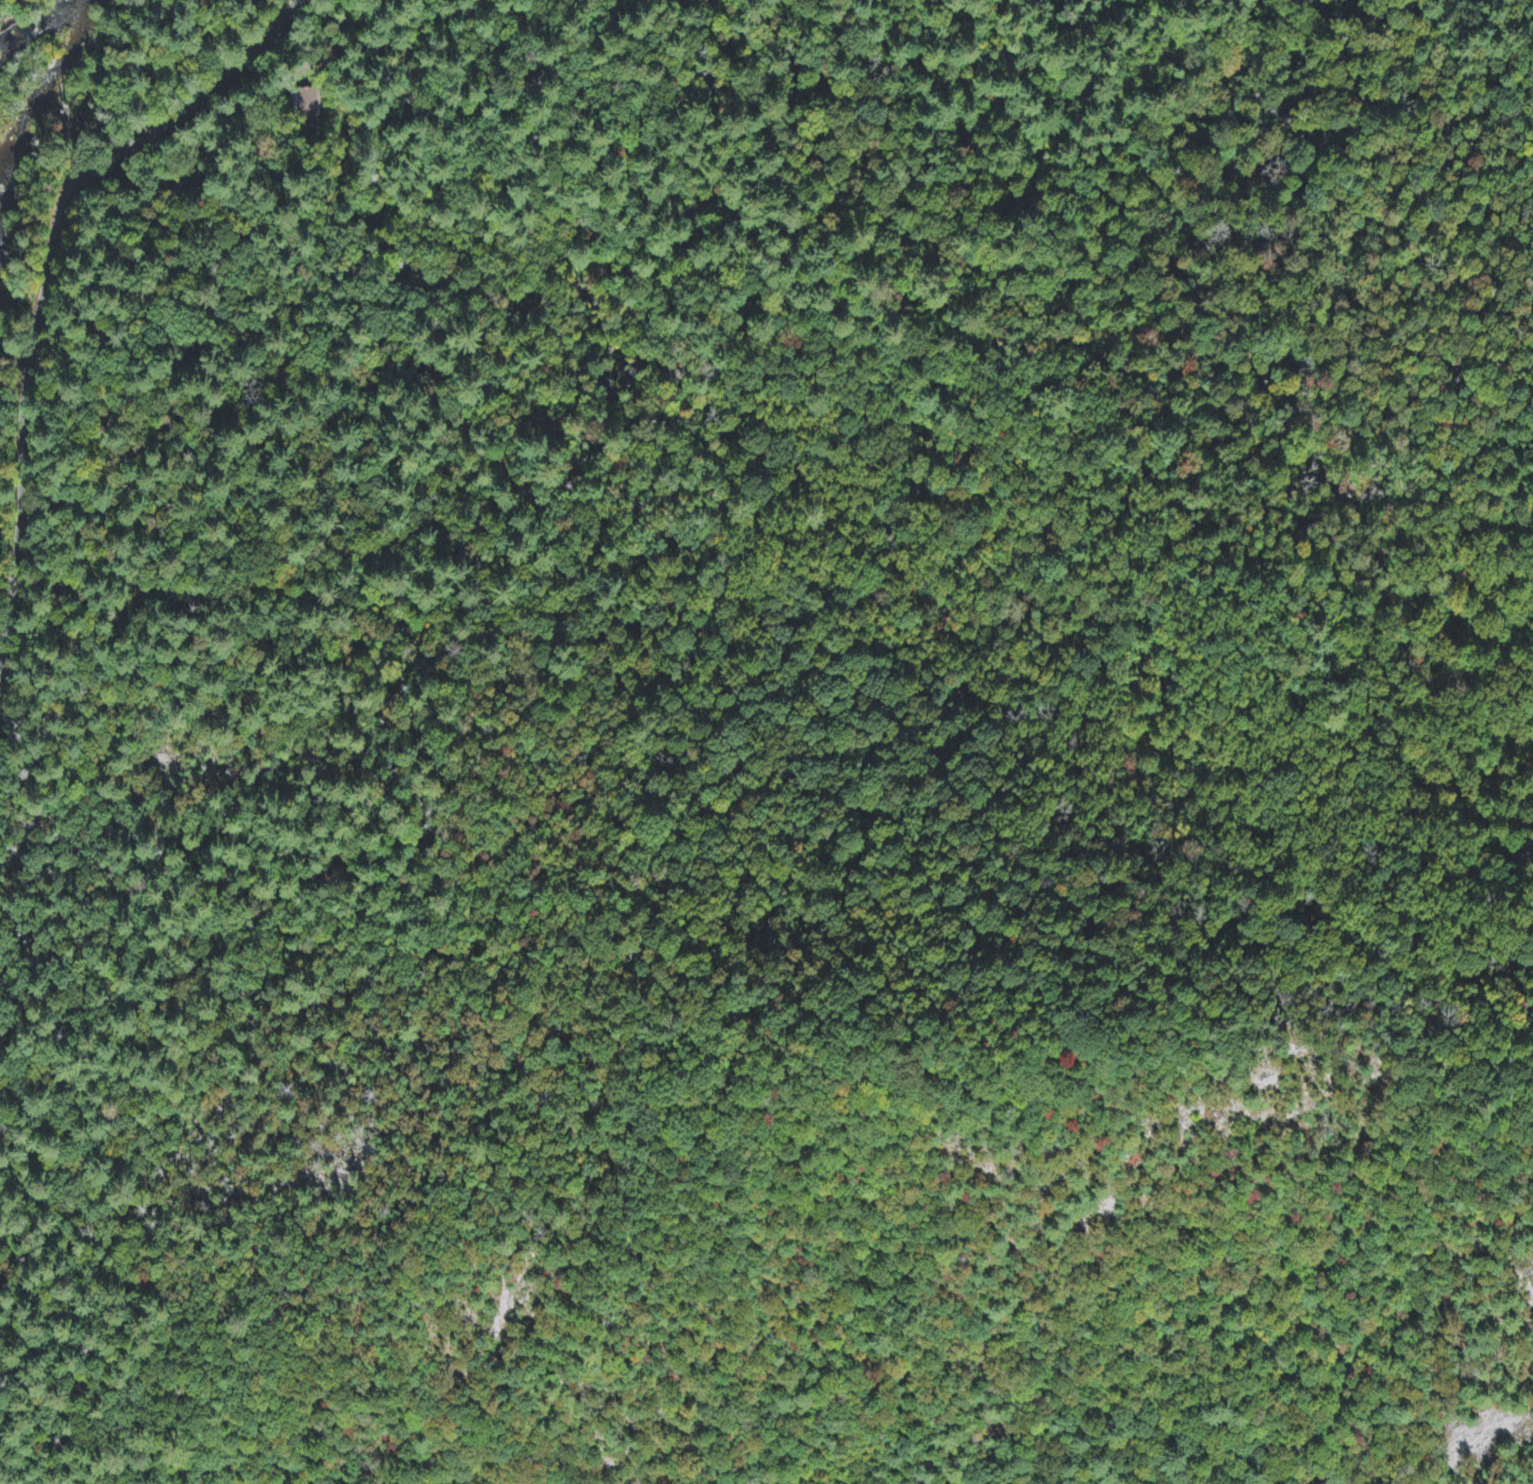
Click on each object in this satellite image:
river: (42, 31)
road: (52, 264)

